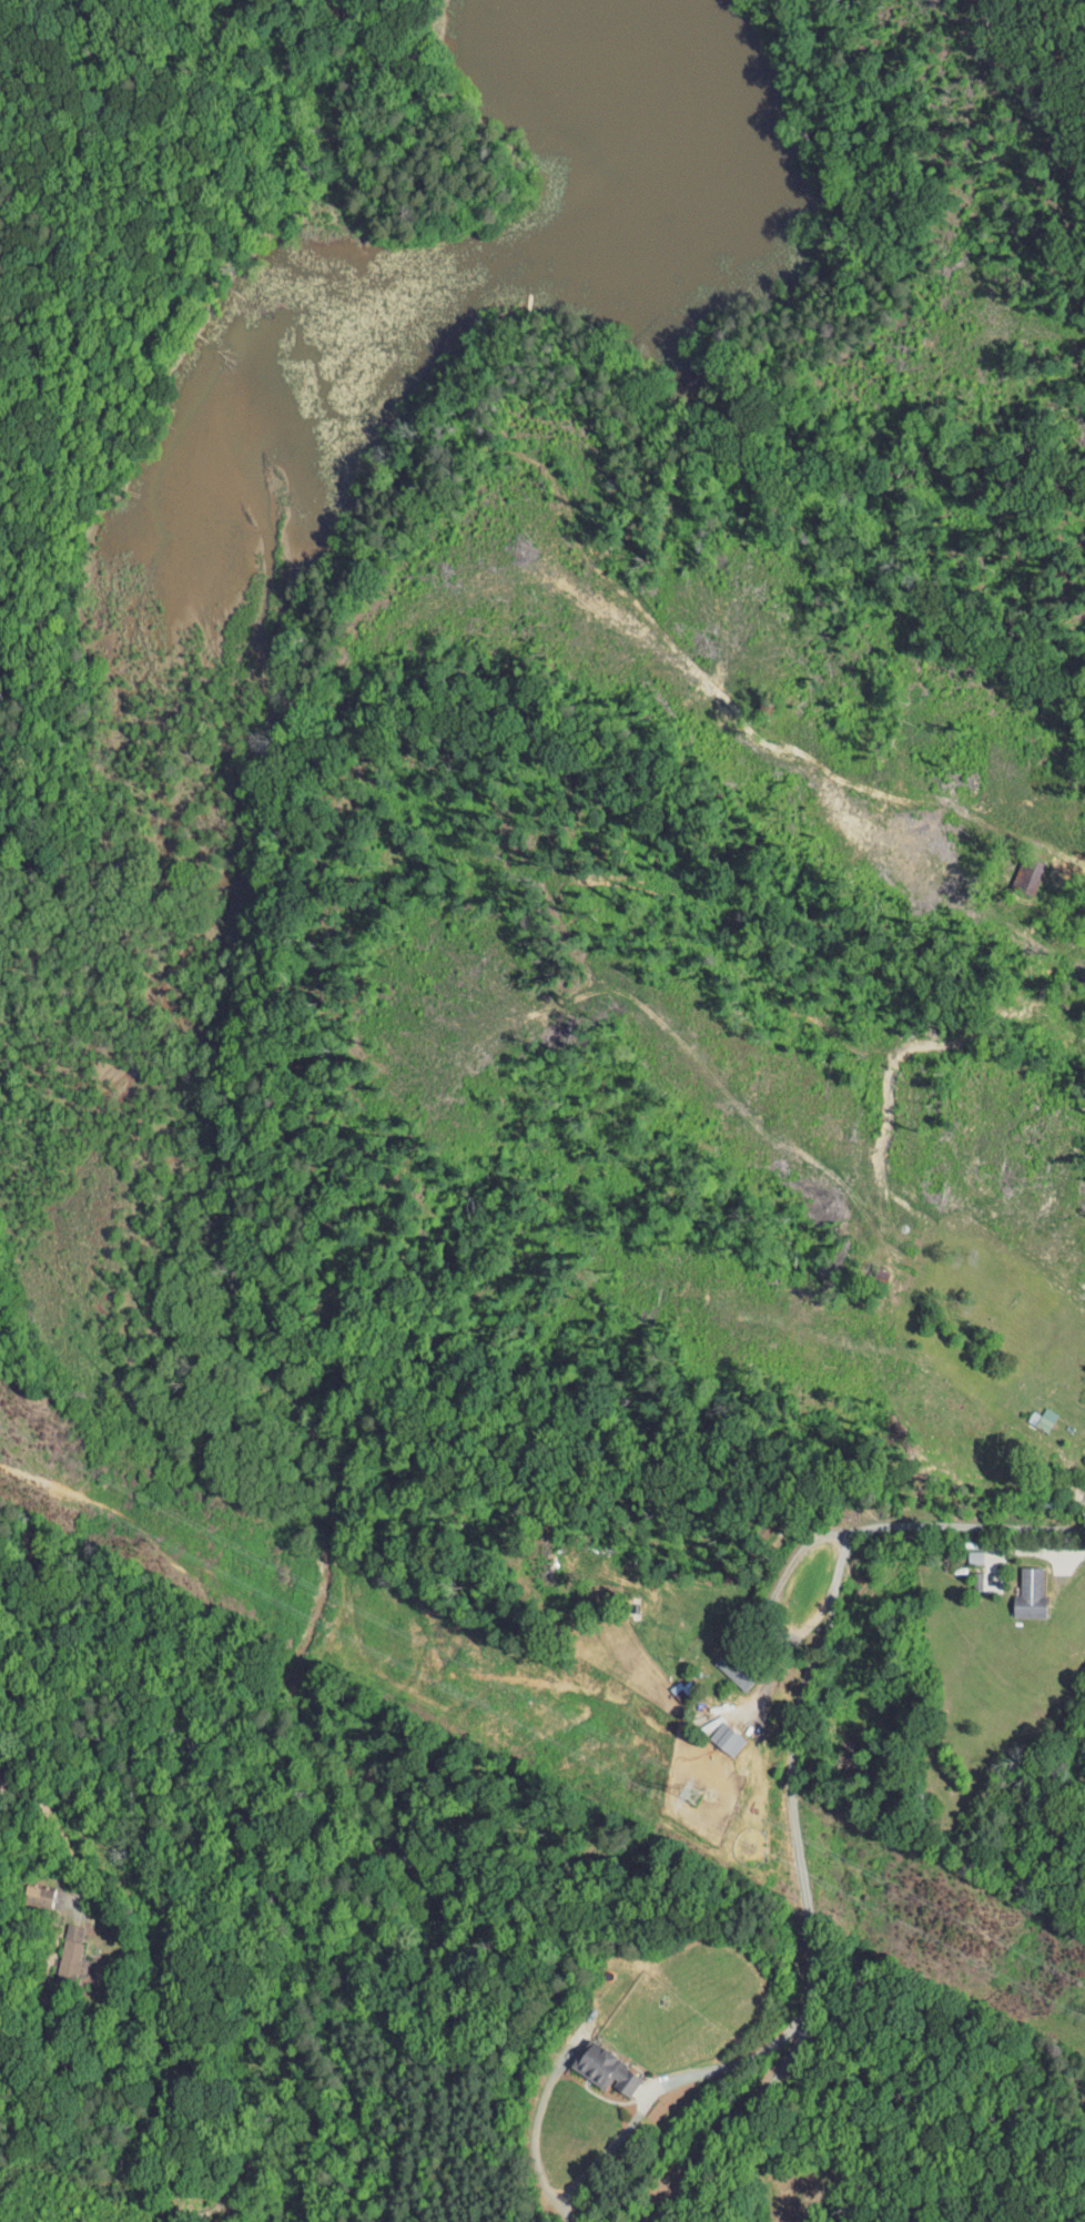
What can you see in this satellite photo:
building: (1015, 869)
building: (1082, 1451)
road: (969, 1524)
road: (1062, 1556)
building: (1016, 1589)
road: (770, 1599)
building: (721, 1662)
building: (713, 1733)
power tower: (696, 1796)
building: (24, 1888)
road: (804, 1896)
building: (58, 1947)
building: (592, 2063)
road: (658, 2091)

